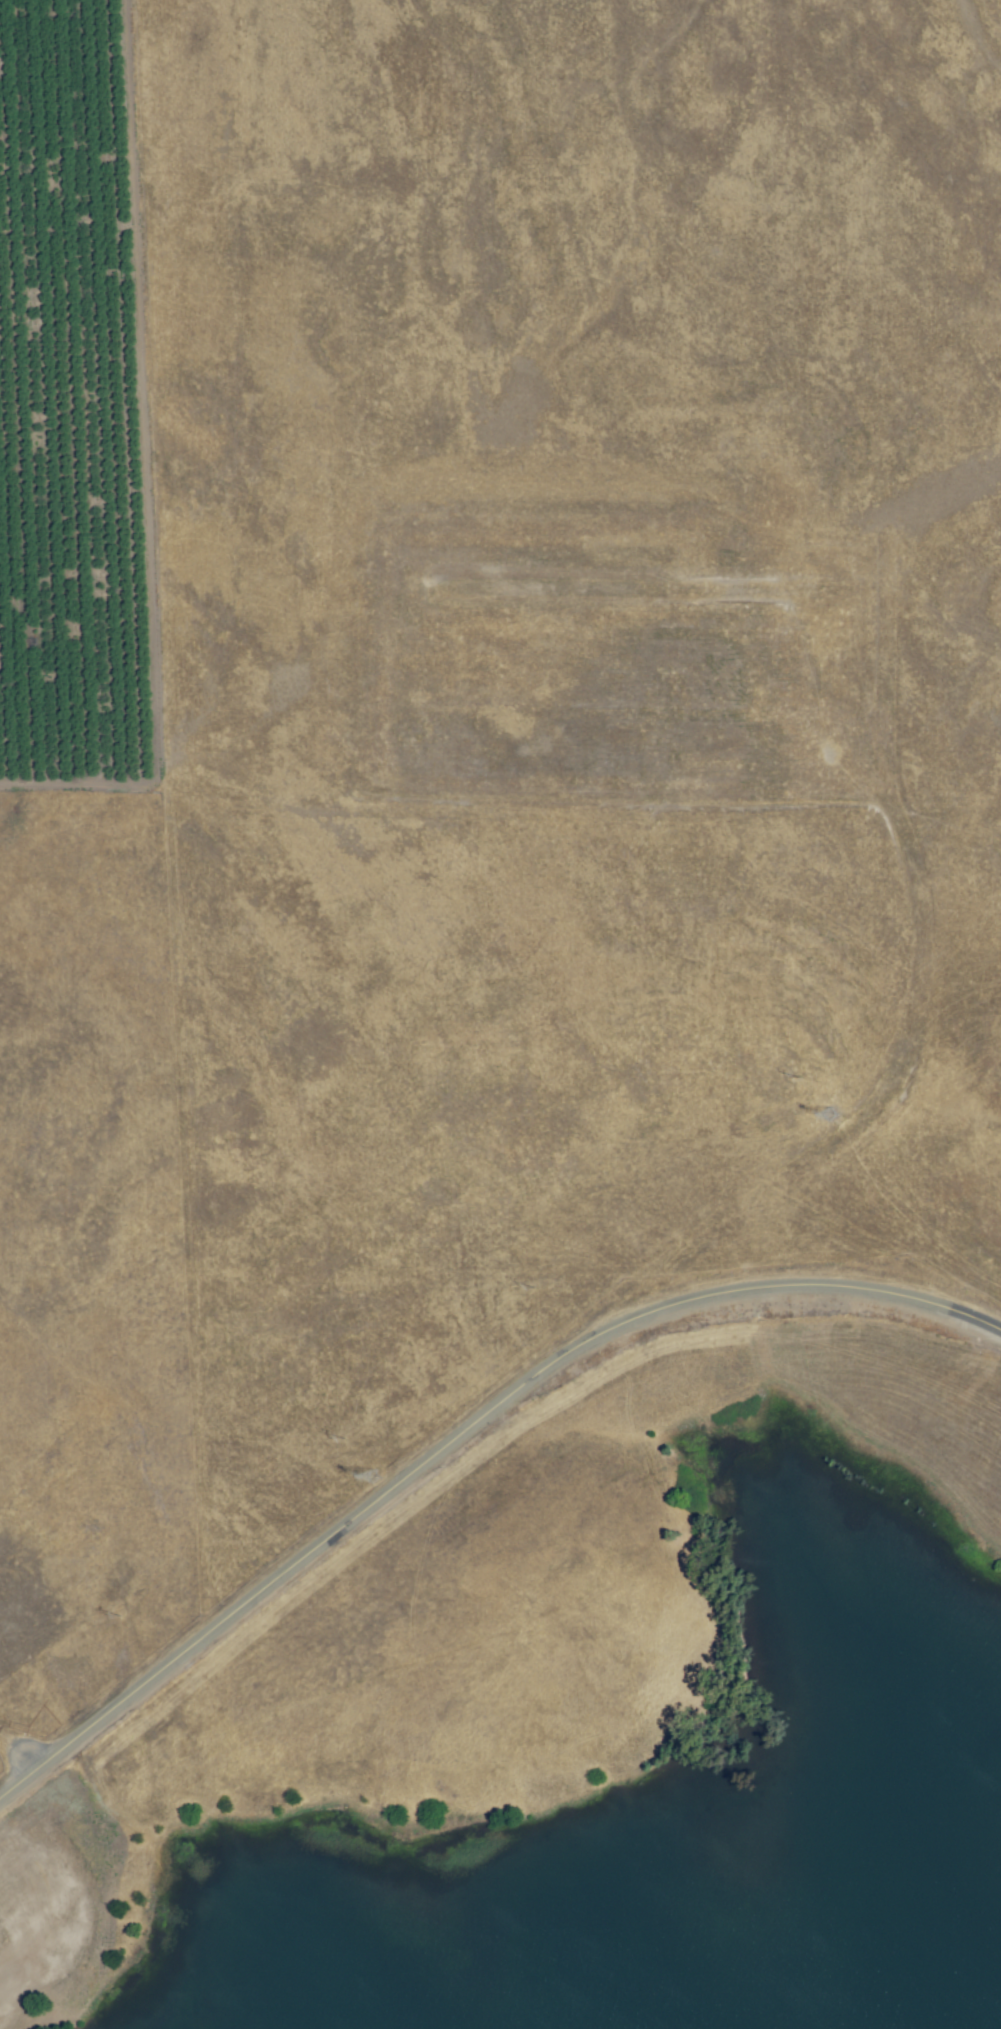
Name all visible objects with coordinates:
power tower: (830, 1114)
road: (467, 1434)
power tower: (373, 1475)

